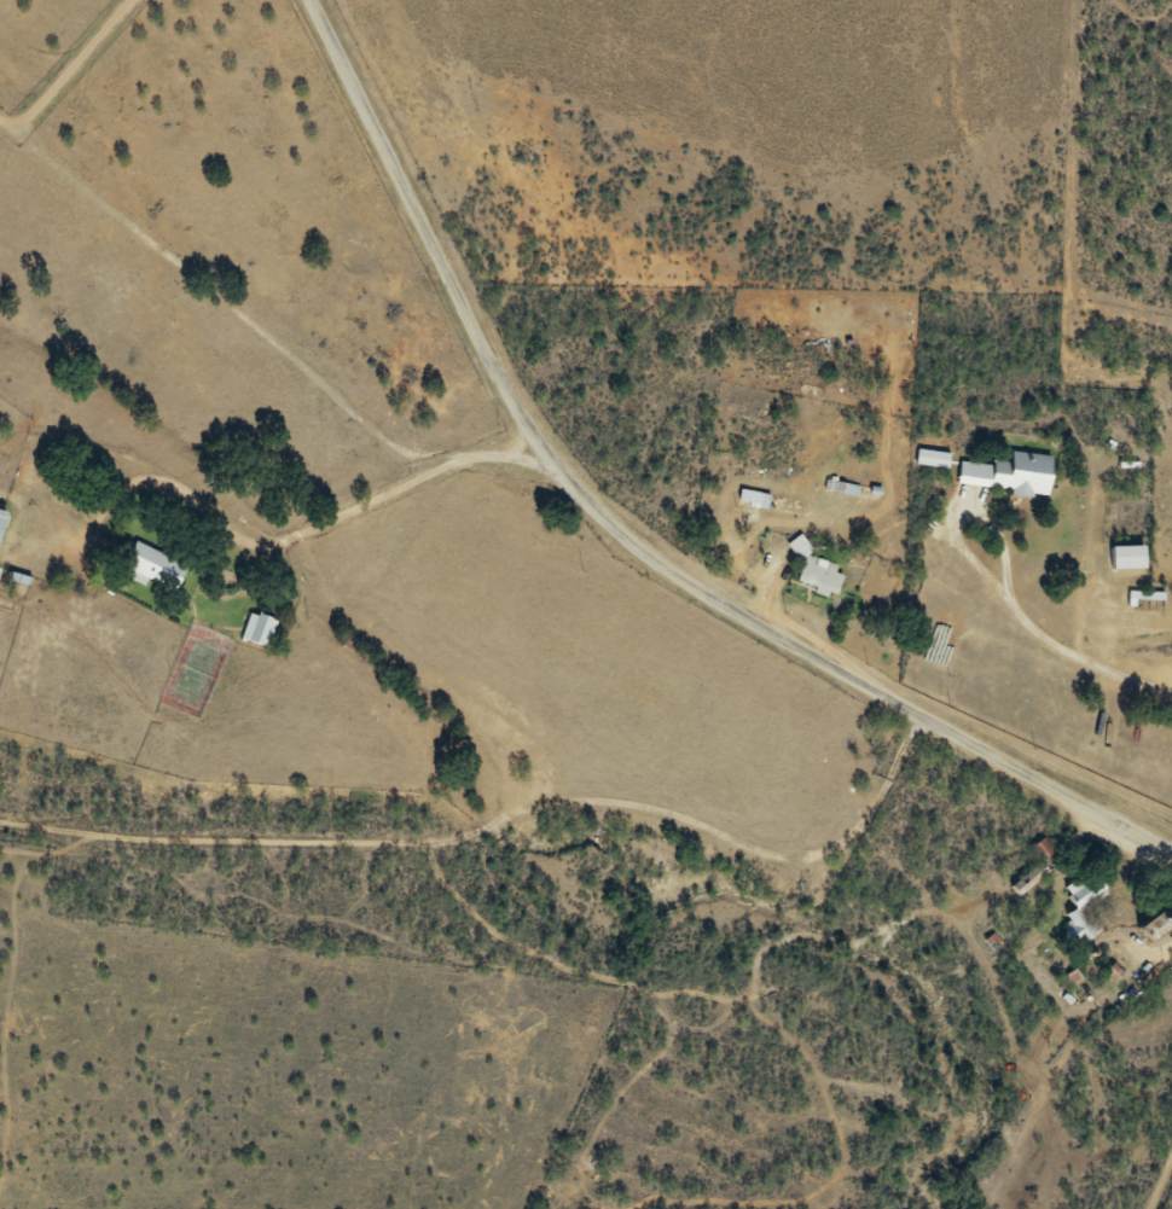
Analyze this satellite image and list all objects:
road: (481, 452)
building: (1010, 475)
building: (750, 496)
road: (359, 501)
building: (2, 523)
road: (628, 539)
building: (1130, 558)
building: (155, 568)
building: (0, 569)
building: (820, 579)
building: (1148, 597)
building: (260, 629)
road: (510, 825)
building: (1031, 878)
building: (1085, 908)
building: (1160, 925)

